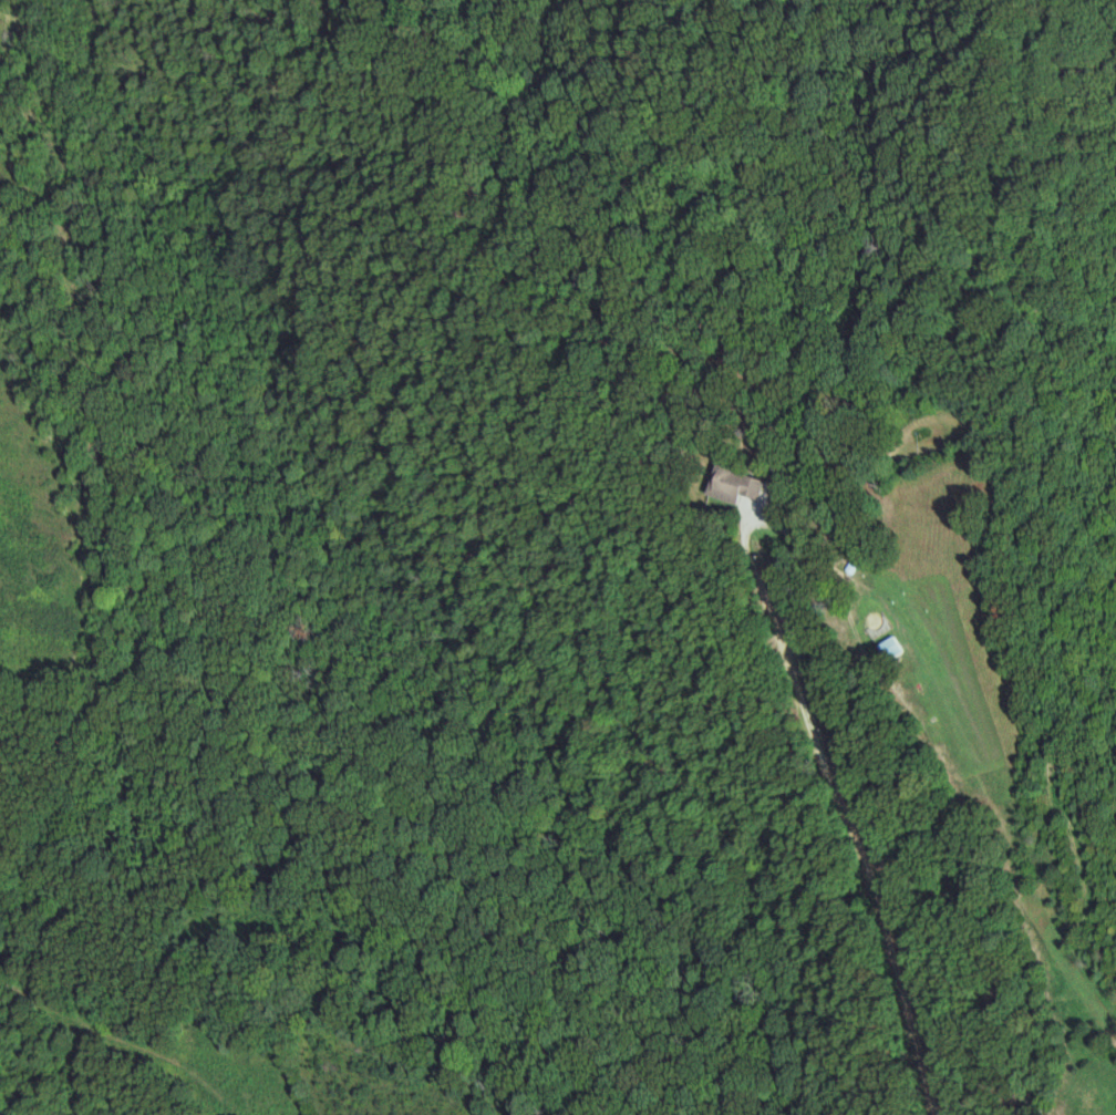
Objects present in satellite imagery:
building: (736, 484)
road: (796, 537)
building: (889, 648)
road: (834, 796)

